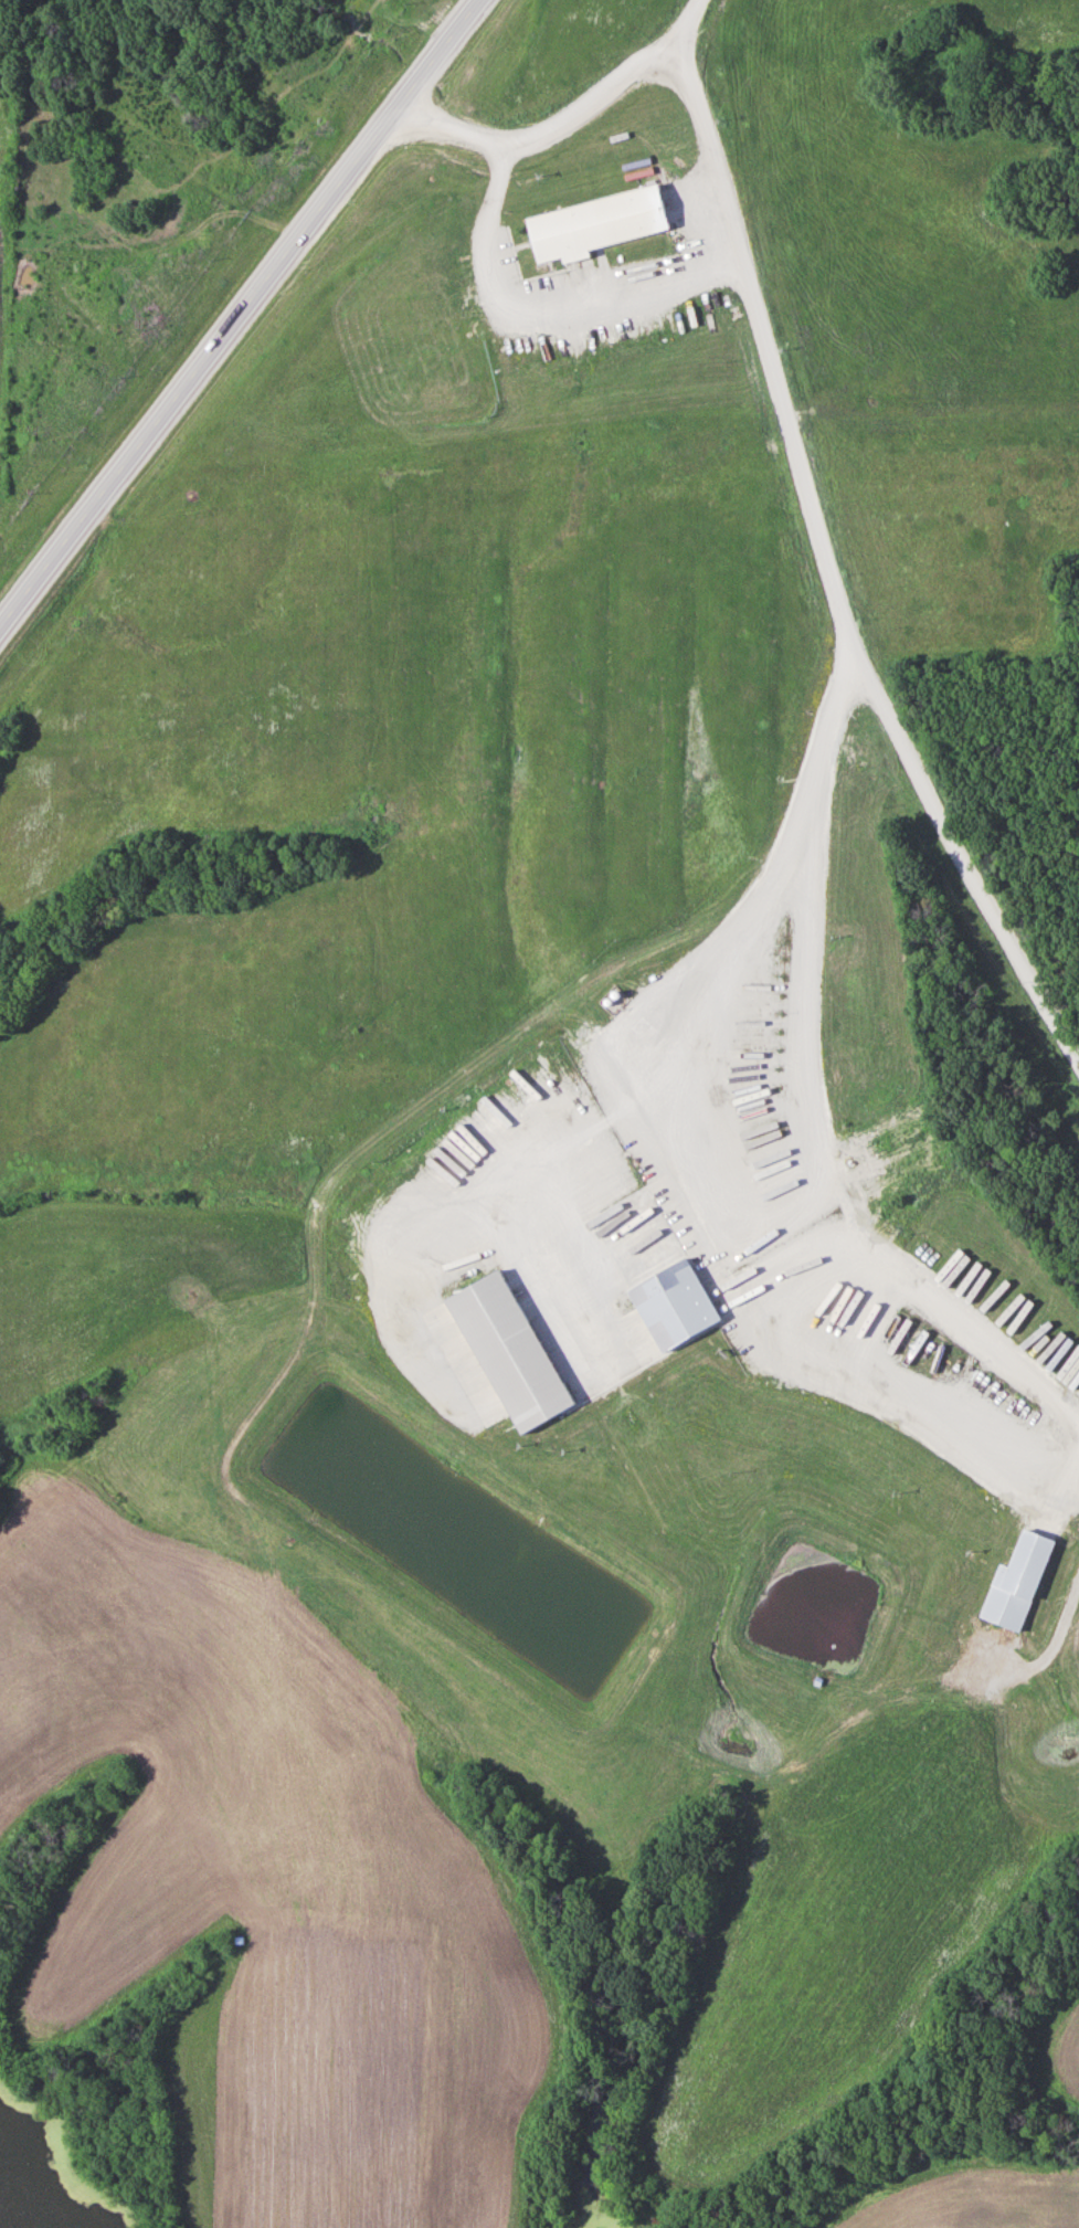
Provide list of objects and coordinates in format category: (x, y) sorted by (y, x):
road: (683, 27)
road: (436, 59)
road: (540, 135)
building: (596, 224)
road: (195, 374)
road: (827, 579)
building: (676, 1299)
building: (499, 1355)
building: (1018, 1583)

